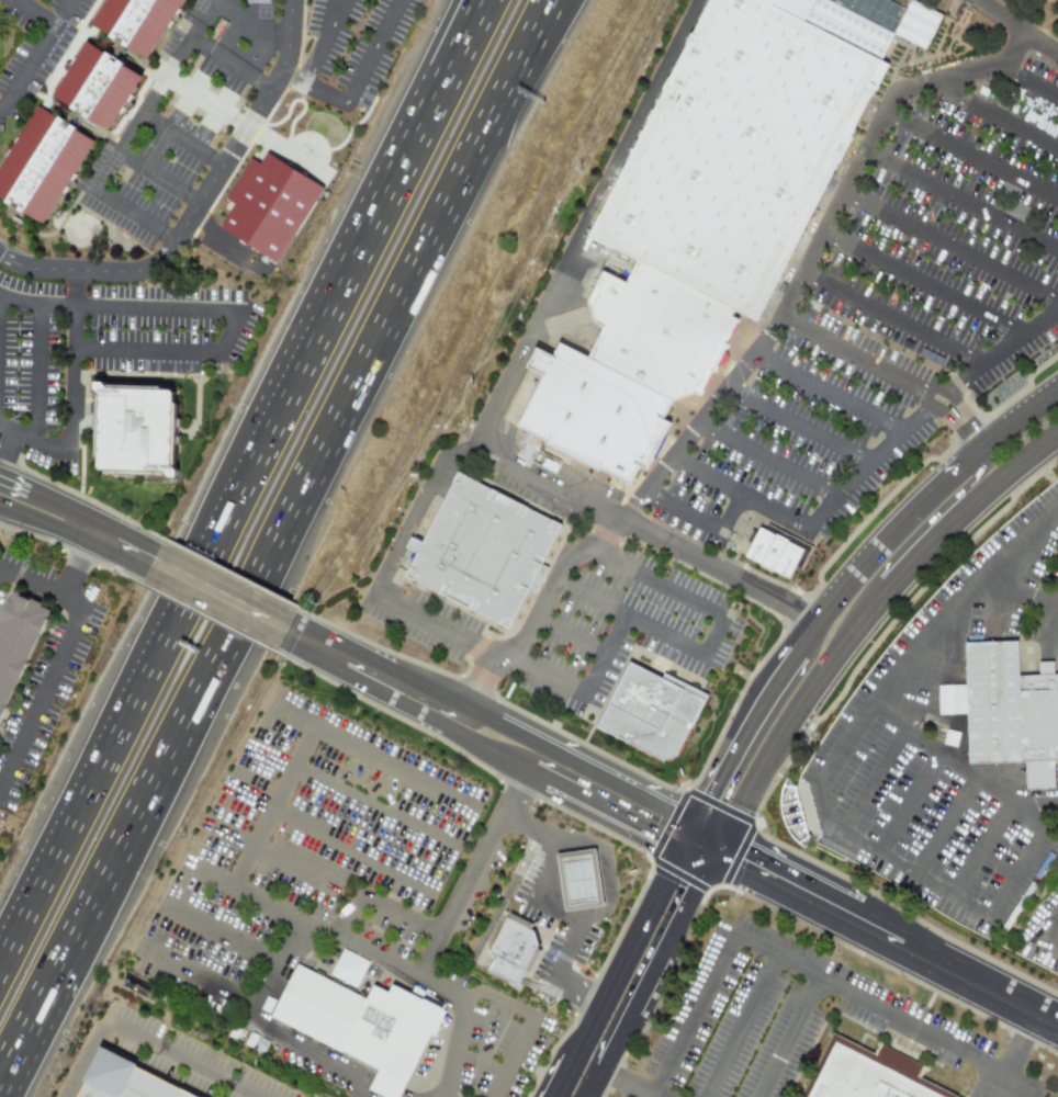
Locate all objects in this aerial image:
road: (34, 13)
building: (145, 21)
road: (254, 26)
road: (1020, 26)
road: (191, 35)
road: (518, 39)
road: (524, 39)
road: (320, 41)
road: (372, 52)
road: (36, 54)
road: (232, 64)
road: (1026, 77)
building: (109, 86)
road: (314, 88)
road: (189, 91)
road: (207, 99)
road: (216, 109)
road: (142, 112)
road: (995, 112)
road: (182, 140)
building: (749, 151)
road: (971, 157)
road: (405, 158)
road: (418, 158)
building: (47, 165)
road: (106, 172)
road: (159, 179)
road: (960, 203)
building: (269, 205)
road: (198, 208)
road: (136, 216)
road: (583, 219)
road: (220, 246)
road: (950, 247)
road: (813, 252)
road: (923, 285)
road: (36, 302)
road: (157, 306)
road: (892, 318)
building: (668, 332)
road: (1002, 350)
road: (168, 353)
road: (852, 353)
road: (35, 372)
road: (308, 374)
road: (831, 391)
road: (69, 393)
road: (959, 398)
building: (606, 414)
road: (943, 416)
road: (1004, 416)
road: (919, 419)
road: (797, 428)
building: (155, 429)
road: (8, 451)
road: (768, 459)
road: (856, 477)
road: (983, 480)
road: (13, 485)
road: (1010, 489)
road: (739, 491)
road: (57, 502)
road: (414, 509)
road: (41, 521)
road: (699, 522)
road: (273, 529)
road: (641, 529)
road: (876, 532)
road: (116, 544)
building: (493, 552)
building: (787, 554)
road: (81, 559)
road: (933, 561)
road: (1020, 590)
road: (672, 591)
road: (218, 597)
road: (540, 608)
road: (1054, 615)
road: (630, 618)
road: (436, 627)
road: (797, 631)
road: (571, 633)
road: (294, 636)
road: (1054, 637)
building: (23, 654)
road: (316, 654)
road: (603, 654)
road: (59, 659)
road: (846, 661)
road: (387, 666)
road: (541, 671)
road: (397, 689)
road: (880, 689)
road: (954, 701)
building: (651, 705)
road: (139, 709)
building: (1018, 712)
road: (928, 713)
road: (295, 714)
road: (888, 714)
road: (425, 719)
road: (315, 725)
road: (736, 733)
road: (922, 742)
road: (785, 755)
road: (581, 760)
road: (273, 762)
road: (533, 776)
road: (873, 780)
traffic signals: (707, 790)
road: (995, 792)
road: (908, 804)
road: (373, 808)
road: (610, 815)
road: (751, 815)
road: (942, 826)
road: (684, 834)
road: (331, 837)
traffic signals: (651, 837)
road: (228, 839)
road: (708, 839)
road: (702, 850)
road: (980, 851)
traffic signals: (746, 866)
road: (605, 871)
road: (471, 873)
building: (578, 879)
road: (1009, 884)
road: (529, 892)
traffic signals: (699, 898)
road: (273, 904)
road: (368, 904)
road: (1042, 935)
road: (892, 940)
road: (480, 942)
building: (514, 948)
road: (375, 955)
road: (788, 959)
road: (615, 970)
road: (661, 974)
road: (200, 979)
road: (579, 989)
road: (257, 1003)
road: (518, 1009)
building: (364, 1013)
road: (23, 1024)
road: (739, 1025)
road: (789, 1036)
road: (458, 1045)
road: (1014, 1055)
road: (184, 1058)
parking lot: (187, 1060)
road: (87, 1063)
road: (554, 1068)
building: (863, 1076)
building: (128, 1081)
road: (631, 1086)

